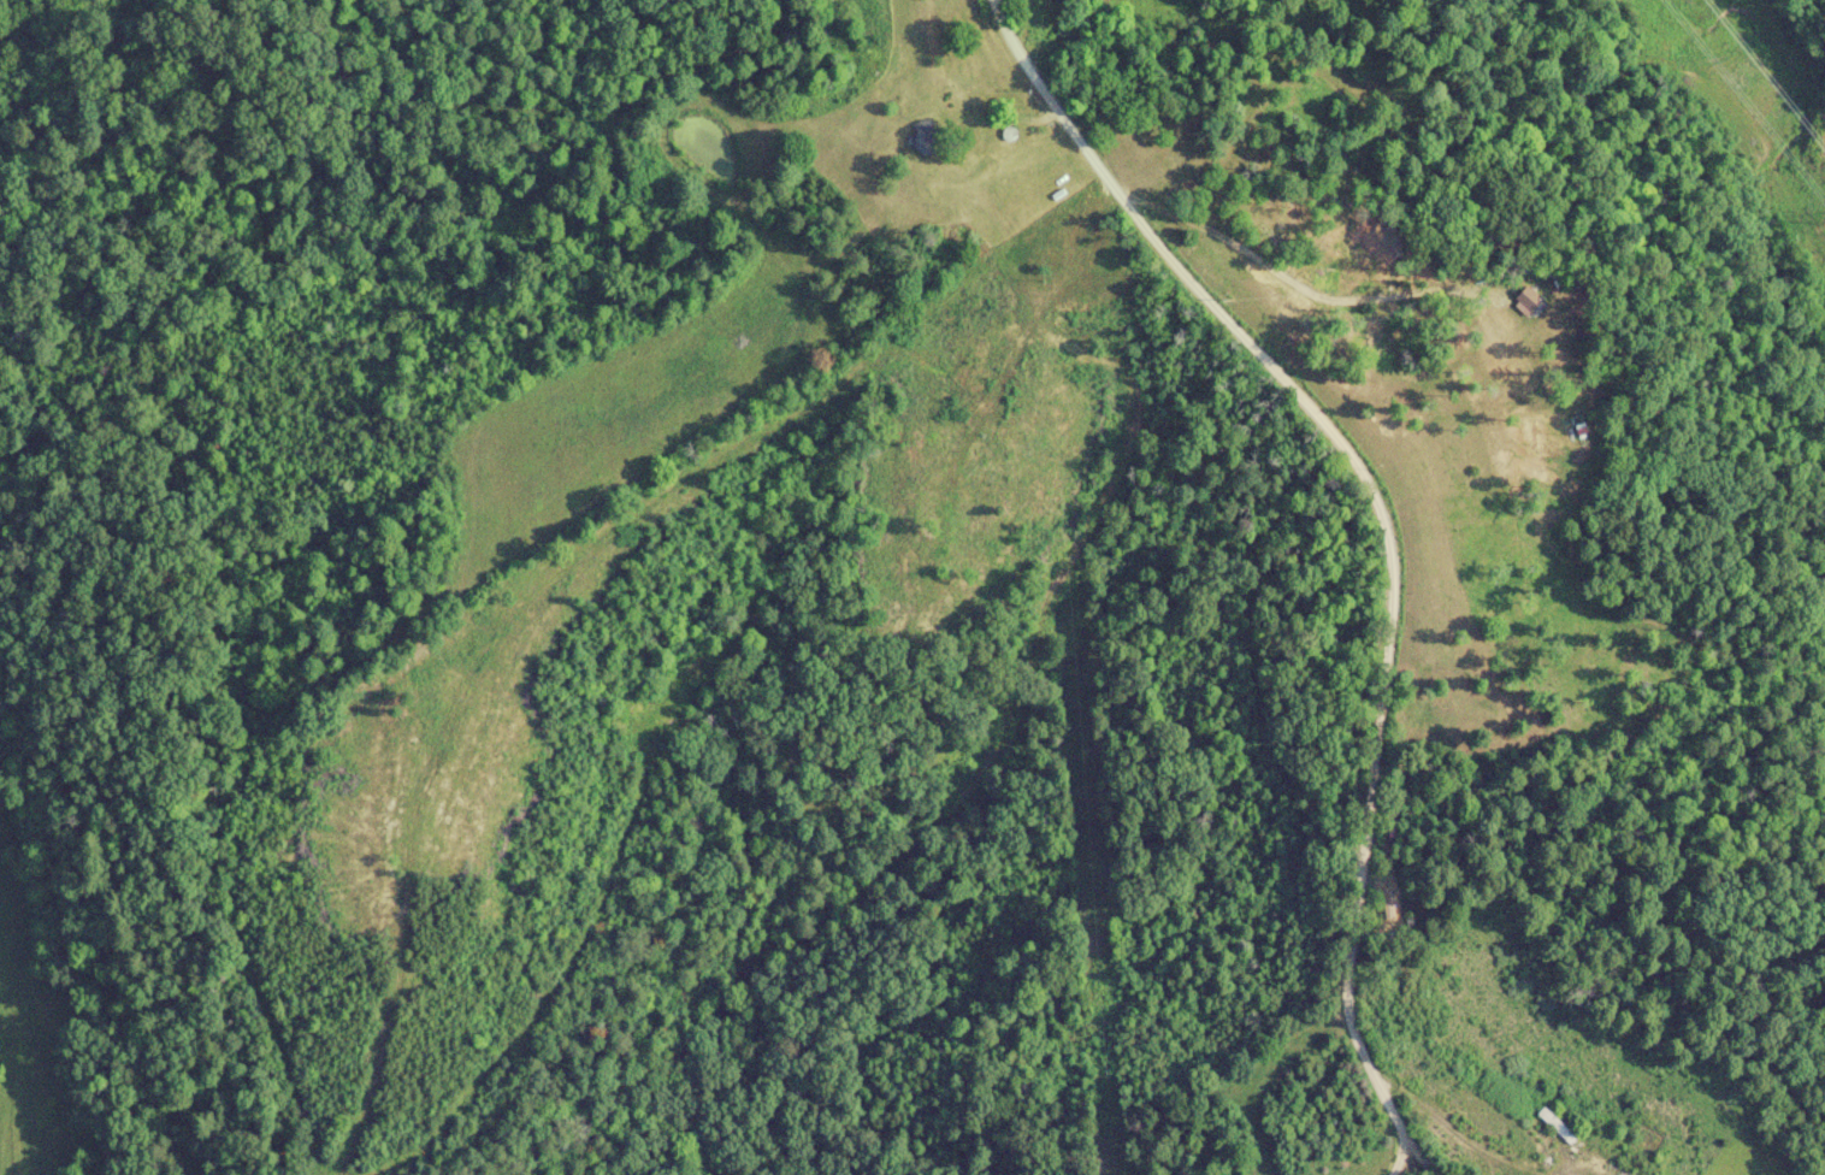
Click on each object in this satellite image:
building: (927, 140)
building: (1528, 300)
road: (1382, 536)
road: (1404, 1165)

